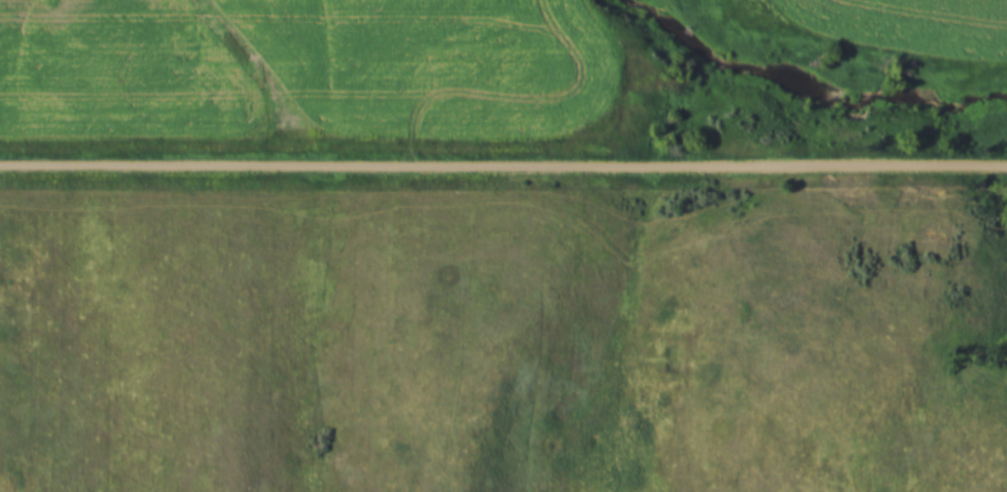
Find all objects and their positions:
crop: (904, 20)
crop: (304, 69)
road: (503, 162)

